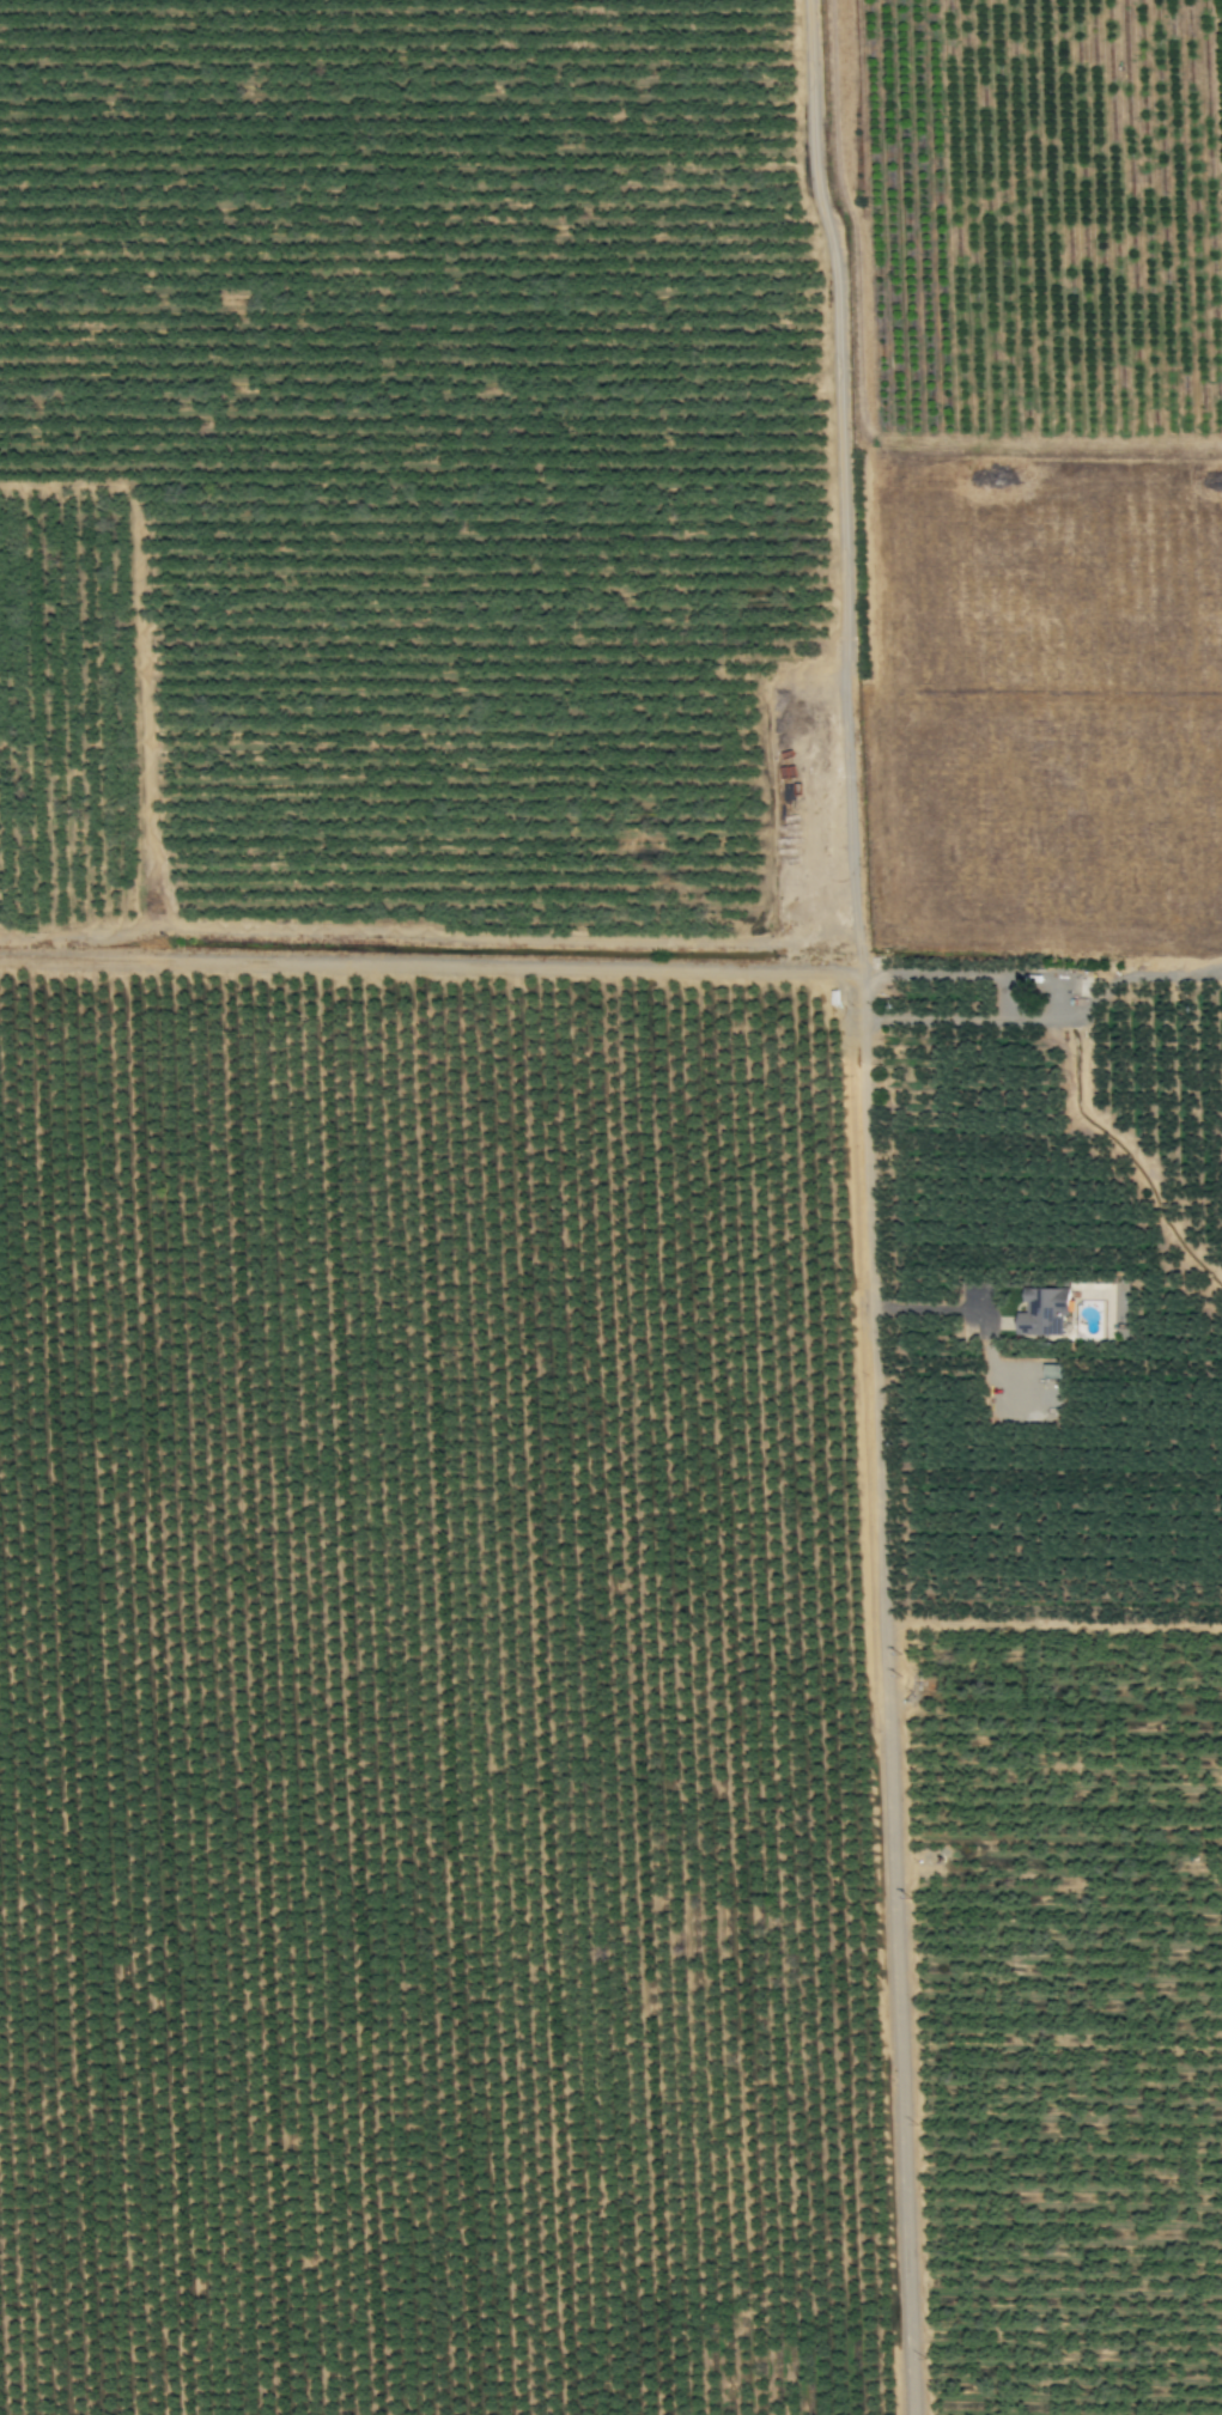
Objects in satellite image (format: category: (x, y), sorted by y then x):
road: (863, 1027)
road: (931, 1309)
building: (967, 1333)
road: (892, 1747)

